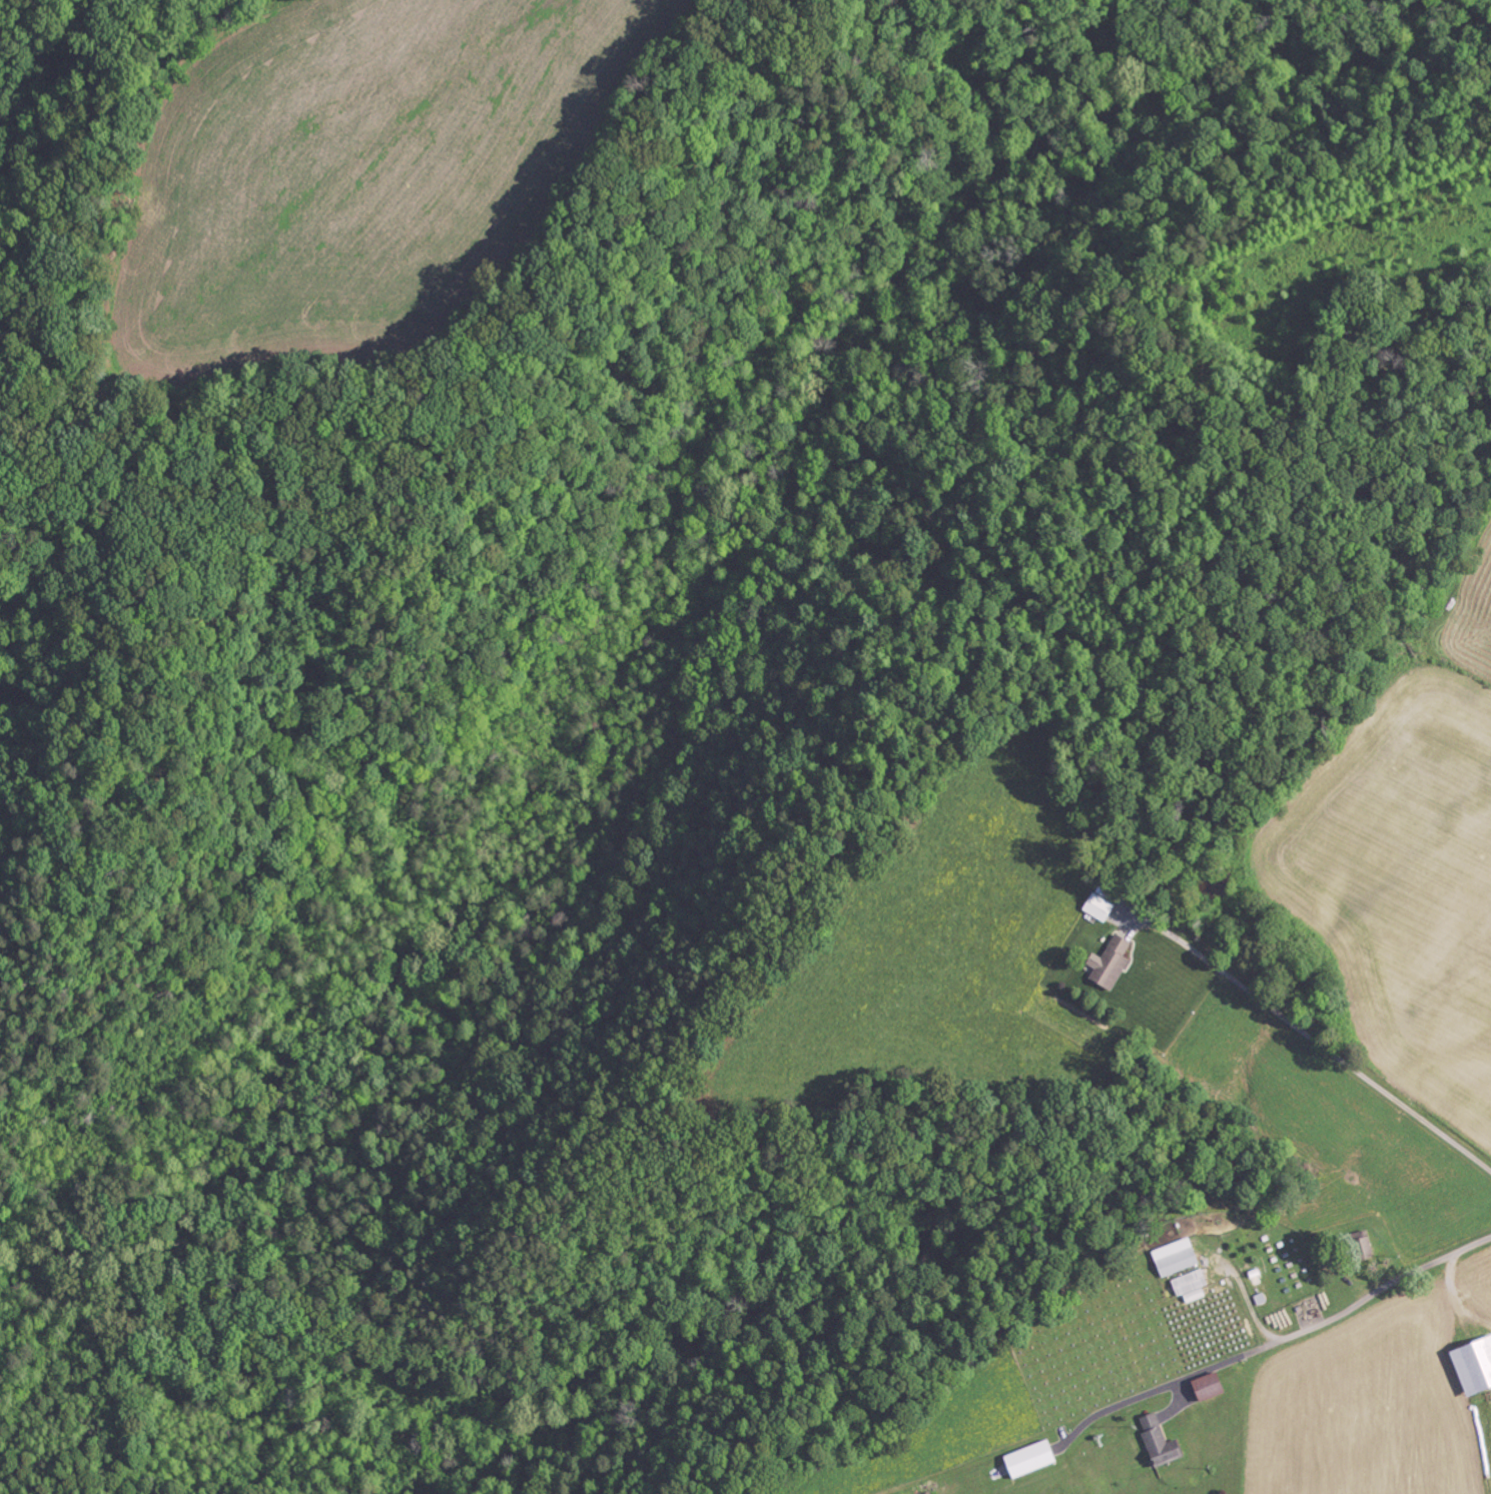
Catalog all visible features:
building: (1106, 963)
building: (1359, 1243)
building: (1173, 1257)
building: (1188, 1286)
road: (1349, 1311)
building: (1472, 1364)
building: (1202, 1387)
building: (1154, 1441)
building: (1025, 1460)

